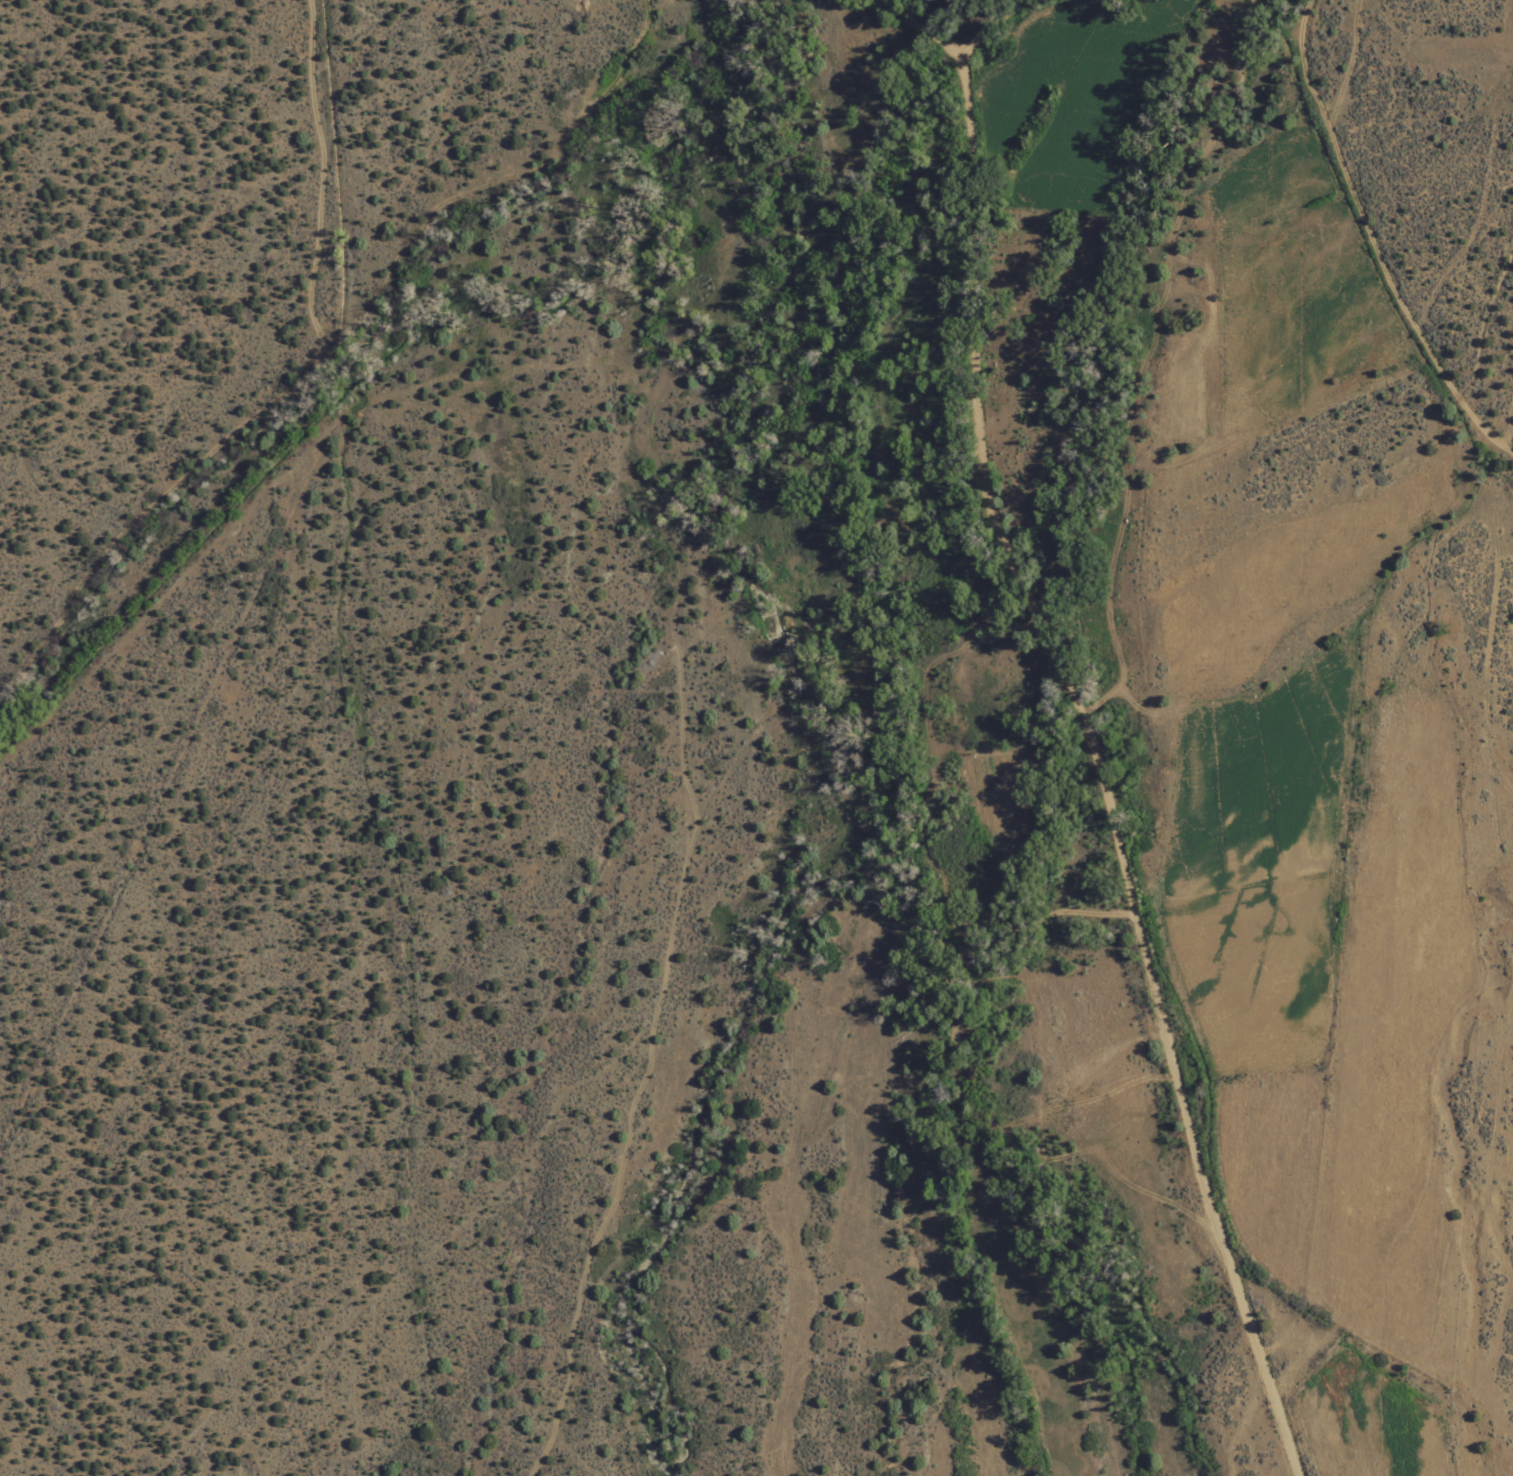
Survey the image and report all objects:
road: (897, 13)
road: (951, 13)
road: (622, 94)
road: (1077, 754)

